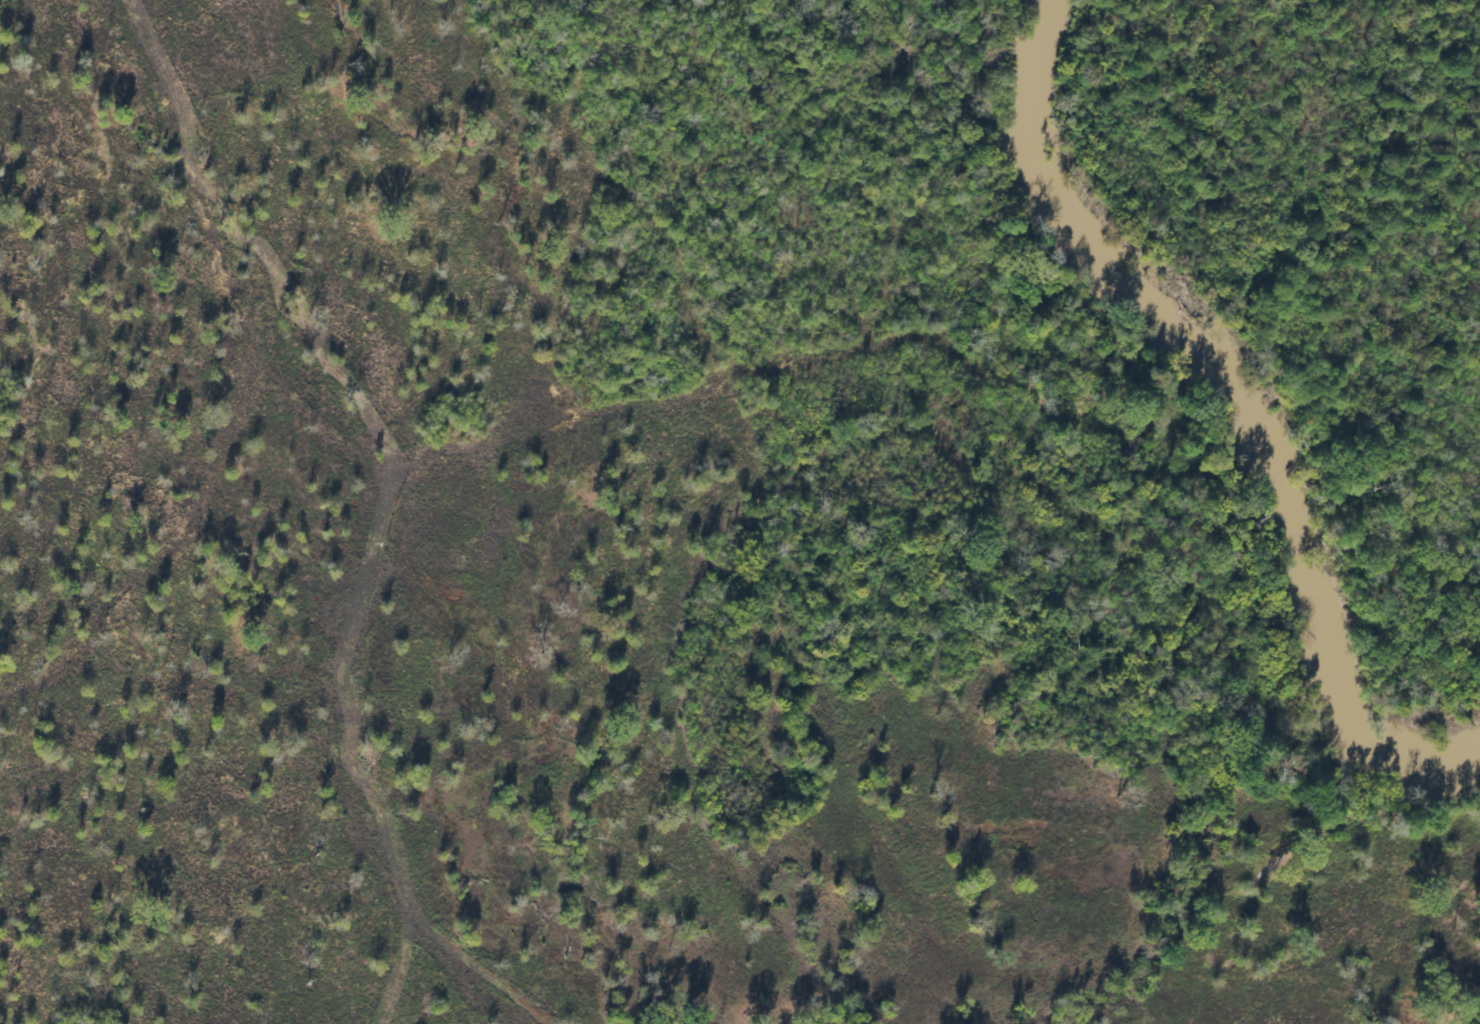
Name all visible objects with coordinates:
river: (1243, 403)

